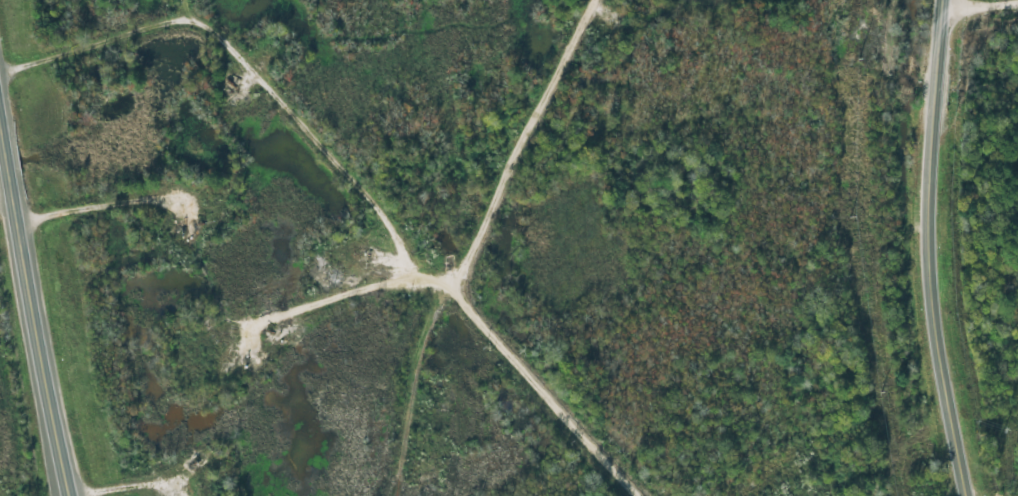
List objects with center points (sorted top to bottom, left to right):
road: (956, 3)
road: (216, 59)
road: (426, 205)
road: (926, 249)
road: (27, 271)
road: (1013, 494)

